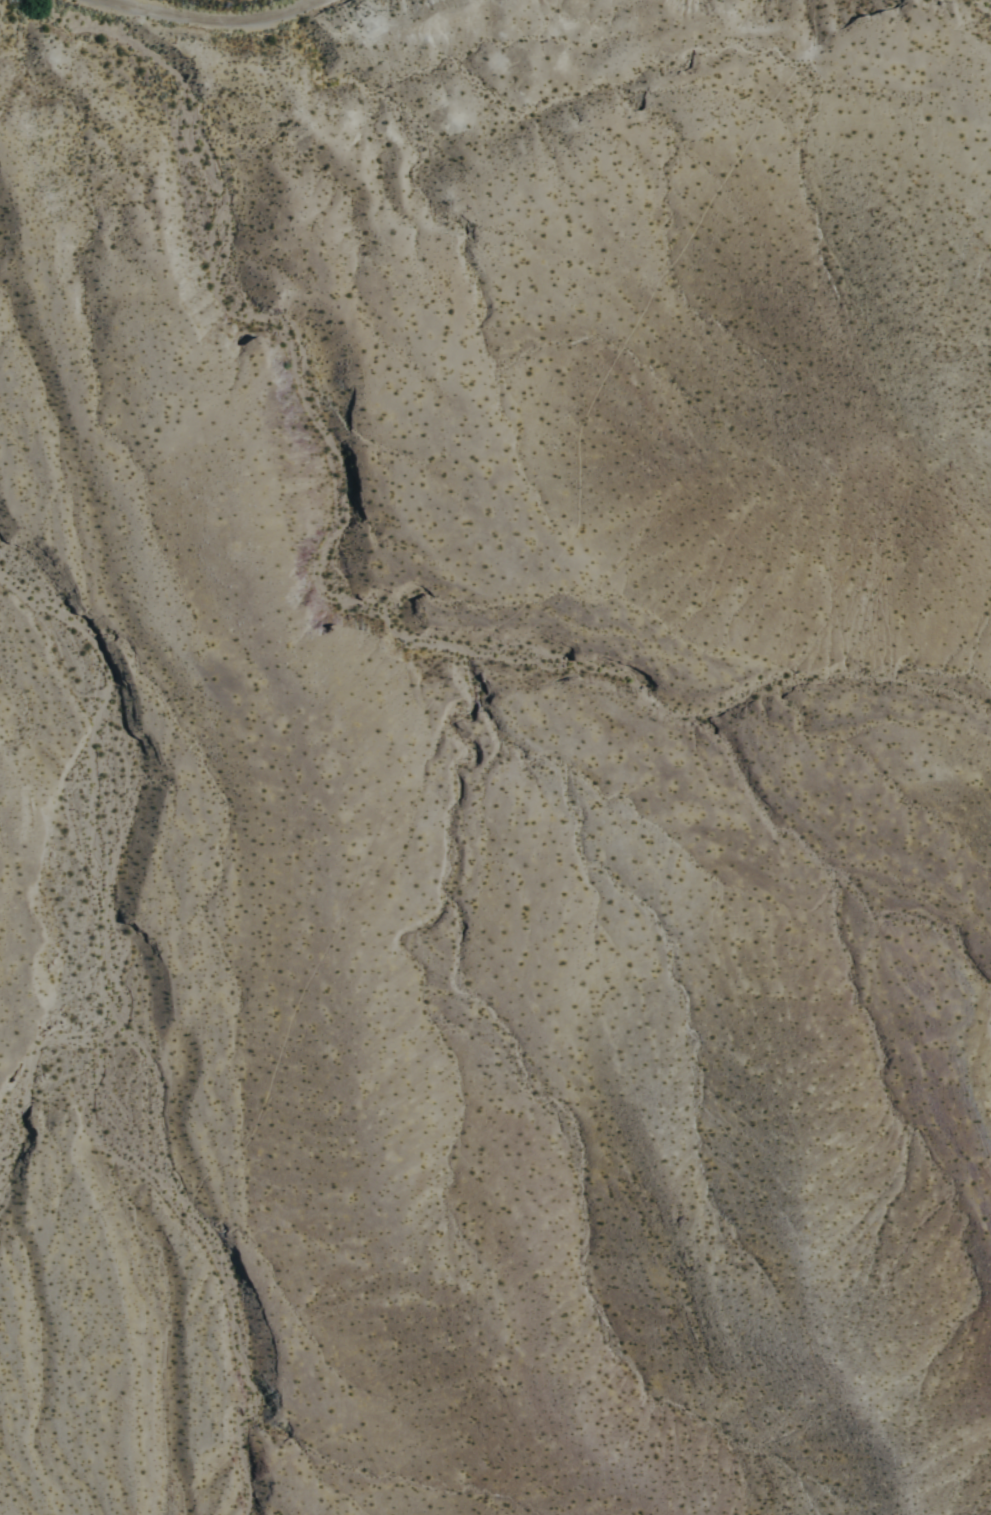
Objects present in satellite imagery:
road: (219, 20)

